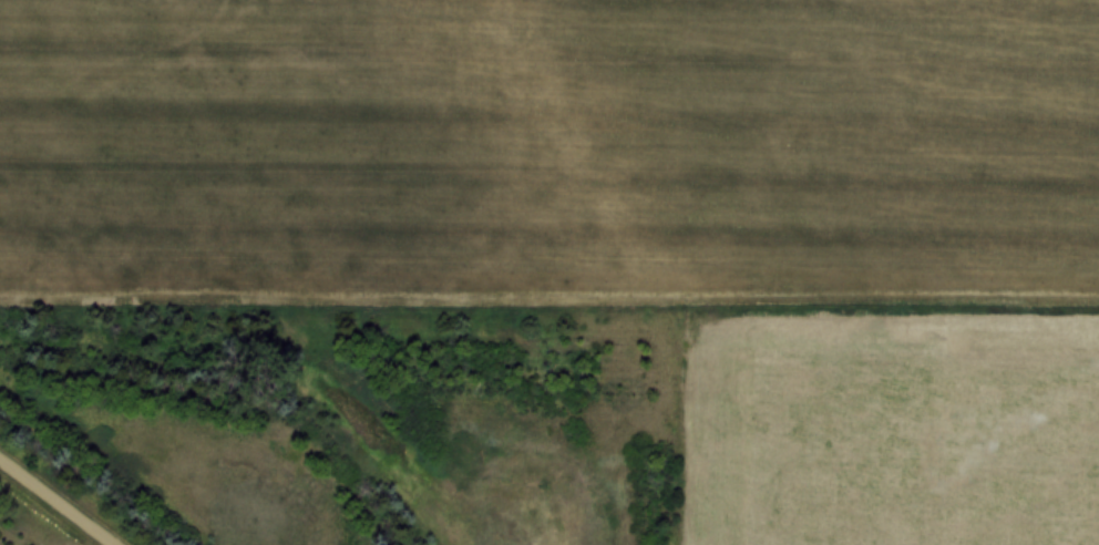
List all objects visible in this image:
road: (18, 473)
road: (74, 515)
park: (53, 525)

